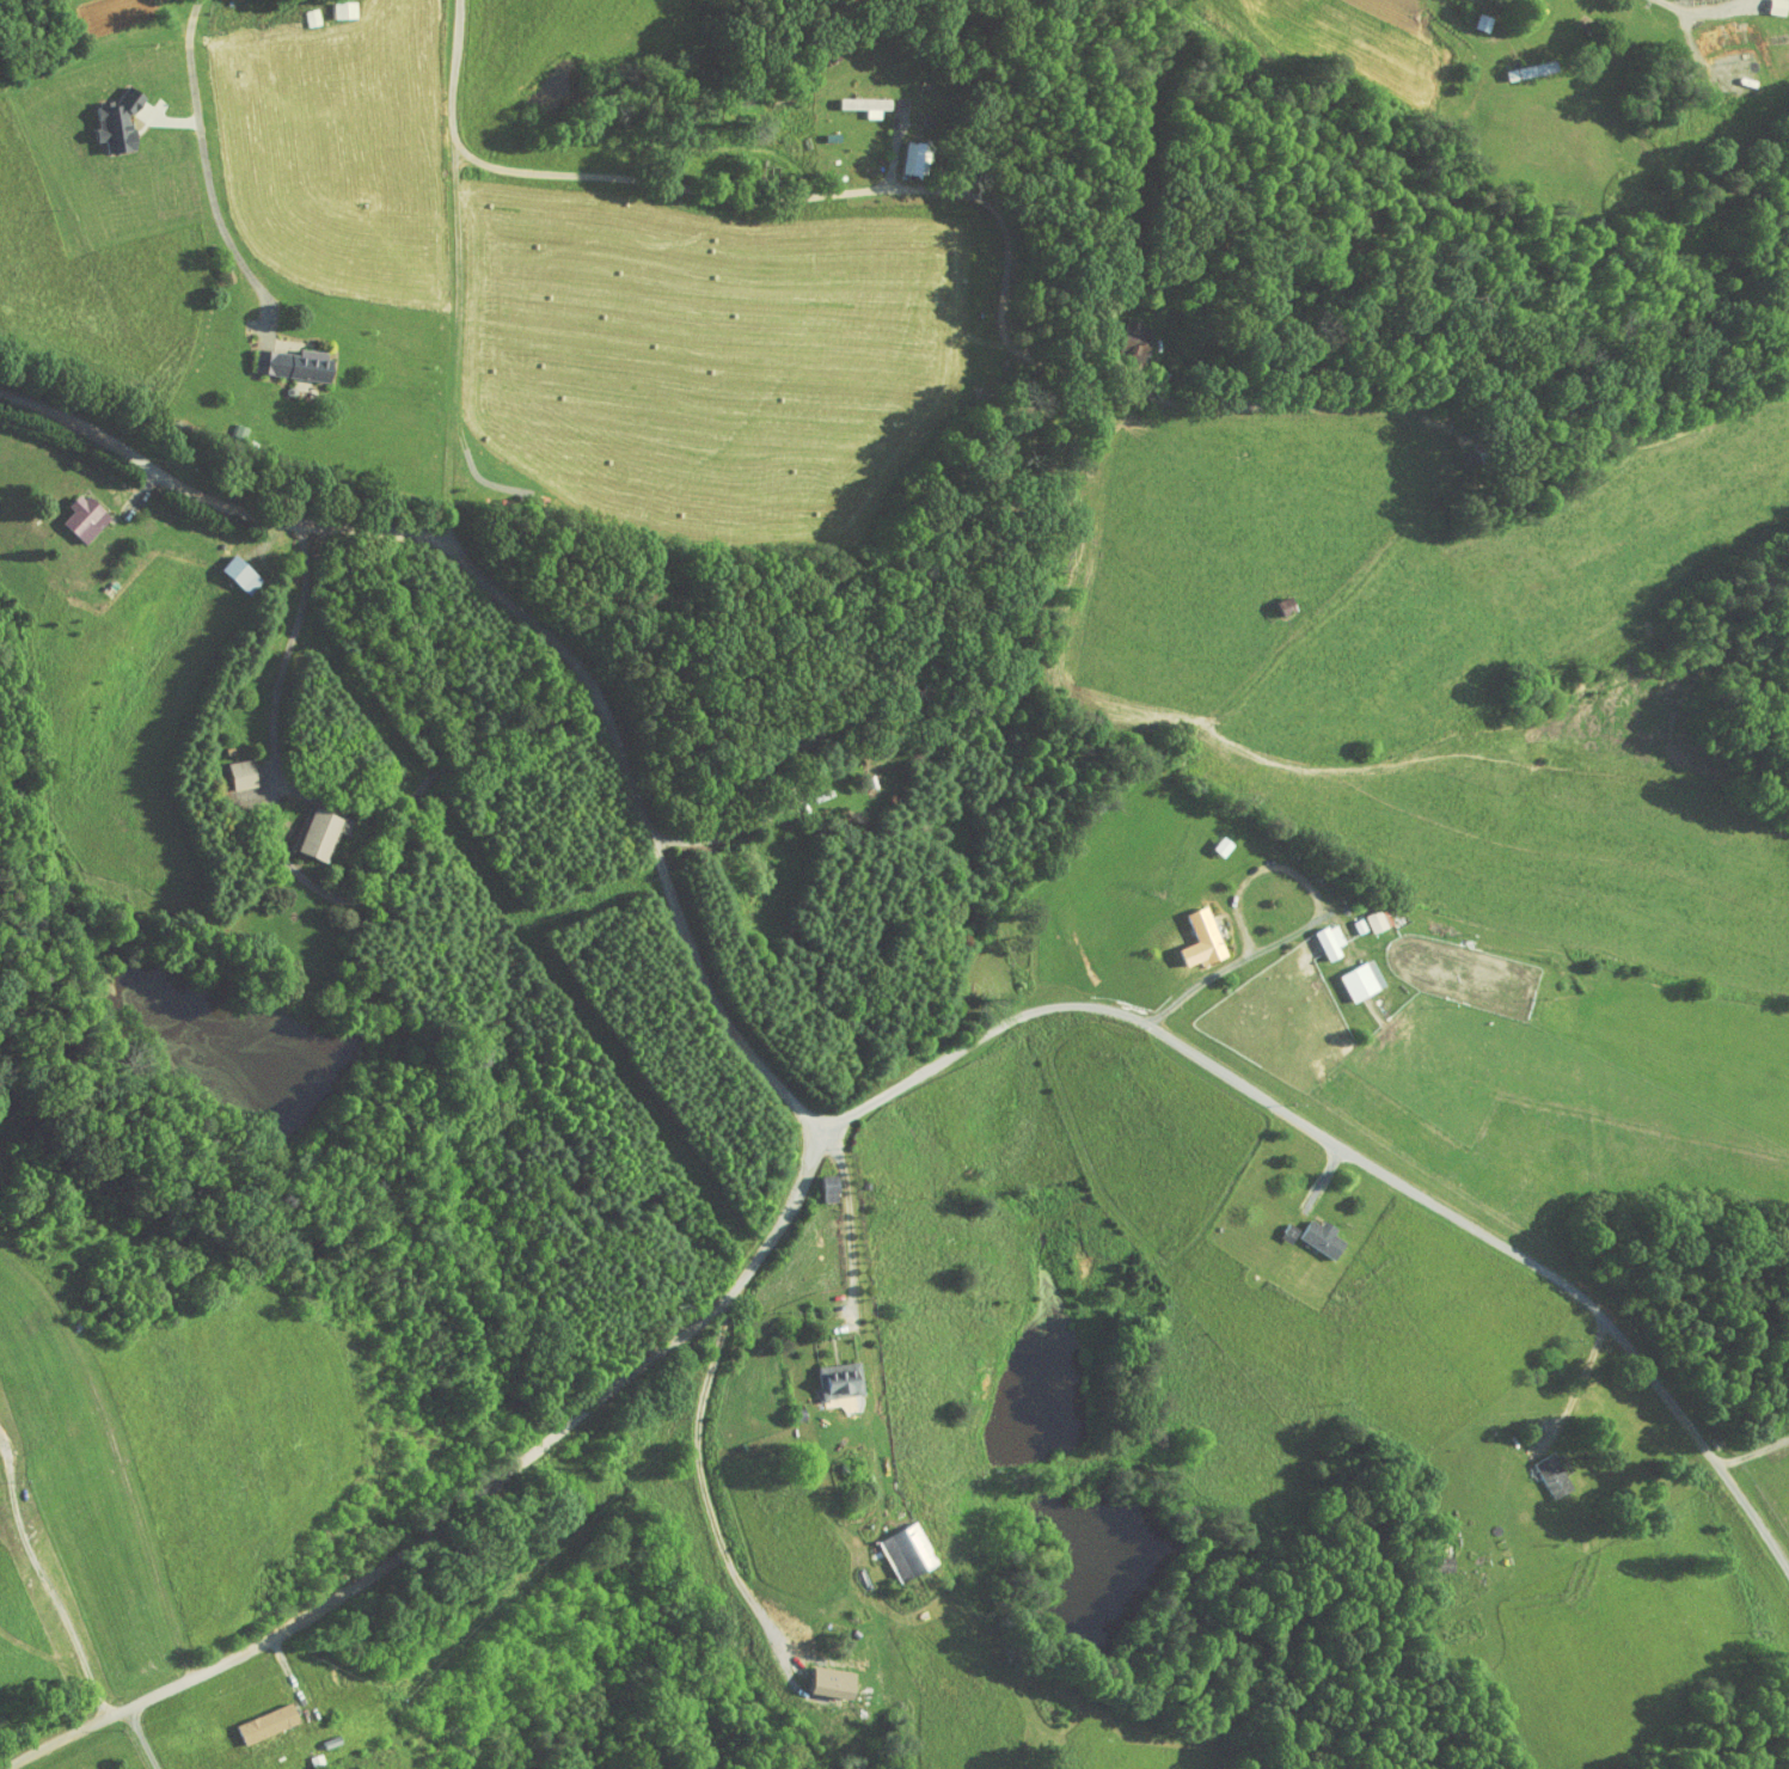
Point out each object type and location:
building: (329, 5)
road: (1710, 8)
building: (1511, 65)
road: (457, 73)
building: (852, 98)
building: (103, 115)
road: (895, 149)
building: (900, 152)
road: (208, 175)
road: (993, 210)
road: (459, 326)
building: (1121, 333)
building: (281, 357)
road: (212, 502)
building: (69, 509)
building: (226, 565)
building: (227, 766)
road: (649, 825)
building: (304, 826)
road: (733, 826)
road: (317, 882)
building: (1364, 912)
road: (1309, 924)
building: (1191, 926)
building: (1316, 934)
building: (1348, 972)
road: (1359, 1162)
building: (815, 1180)
building: (1307, 1230)
road: (858, 1342)
building: (826, 1372)
road: (1579, 1383)
road: (1753, 1452)
building: (1538, 1468)
road: (691, 1489)
road: (461, 1508)
building: (893, 1544)
road: (44, 1575)
building: (816, 1675)
building: (252, 1716)
road: (143, 1734)

